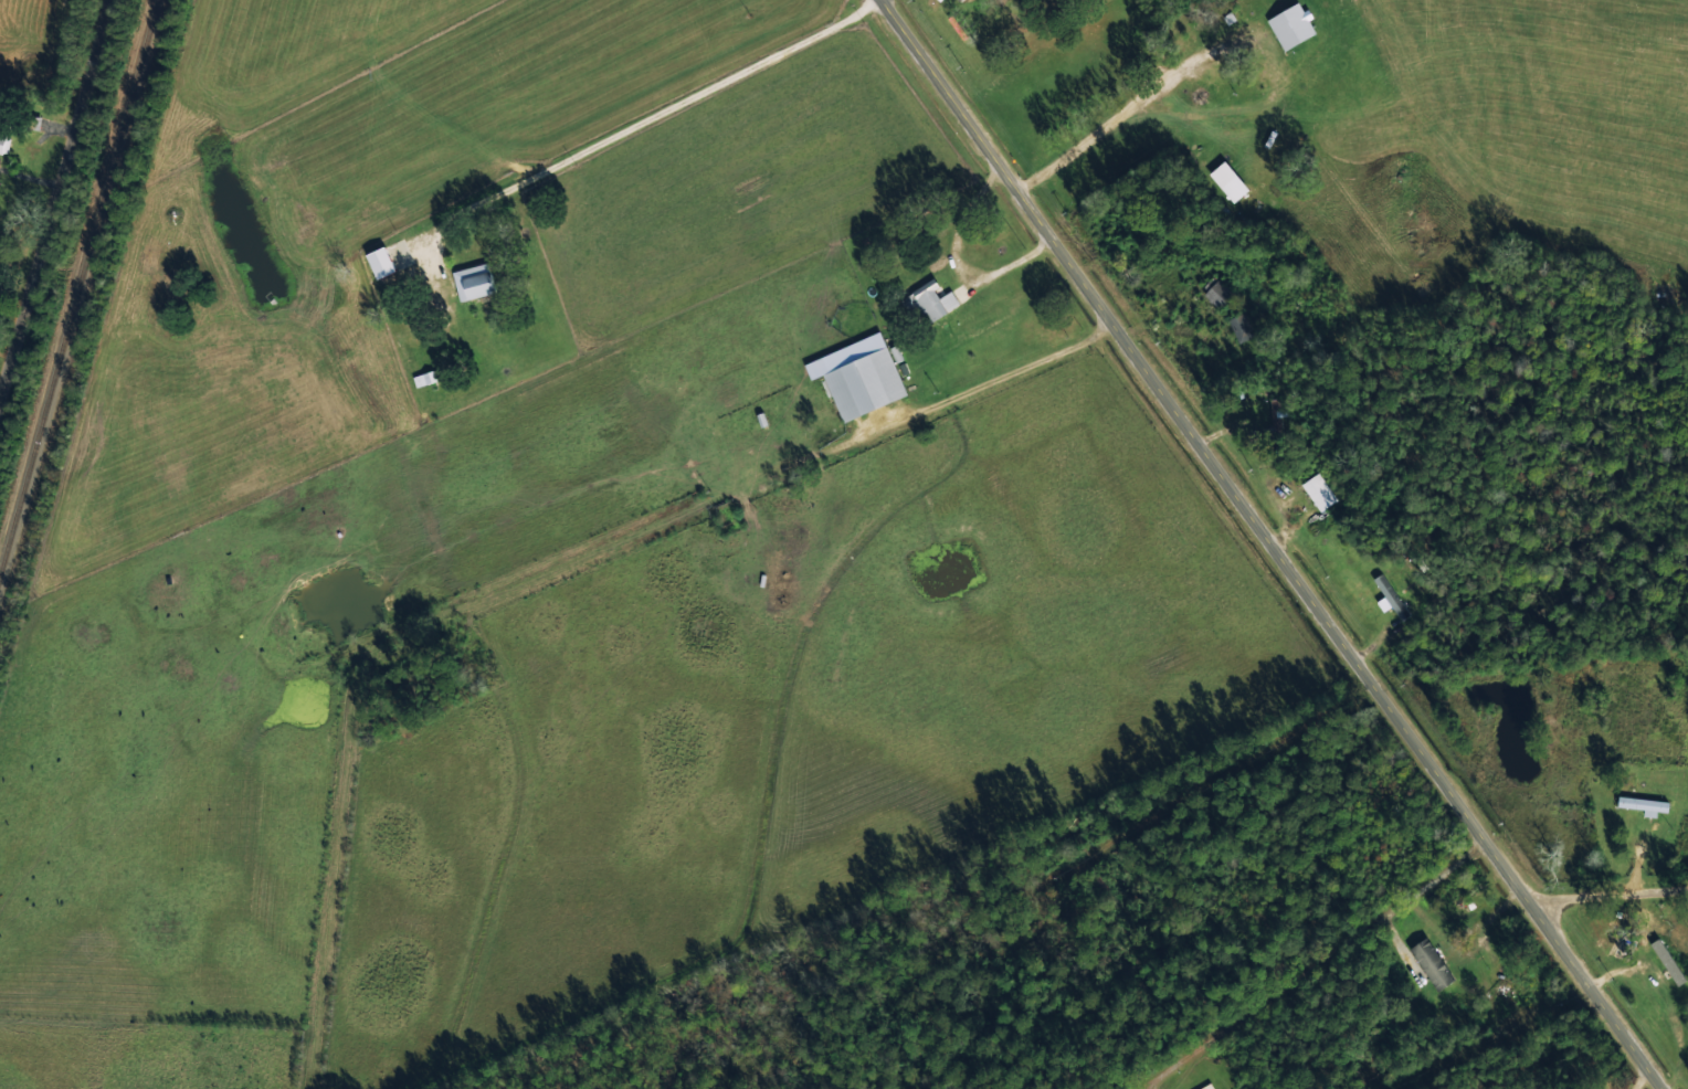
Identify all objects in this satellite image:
building: (1291, 25)
building: (2, 141)
road: (577, 156)
building: (1228, 180)
road: (54, 194)
building: (380, 262)
building: (473, 281)
railway: (77, 284)
building: (1215, 290)
building: (932, 299)
building: (1241, 326)
building: (424, 378)
building: (865, 383)
building: (1275, 416)
building: (1318, 490)
road: (1272, 544)
building: (1391, 595)
building: (1643, 804)
road: (1610, 895)
building: (1667, 961)
building: (1431, 963)
building: (1206, 1086)

